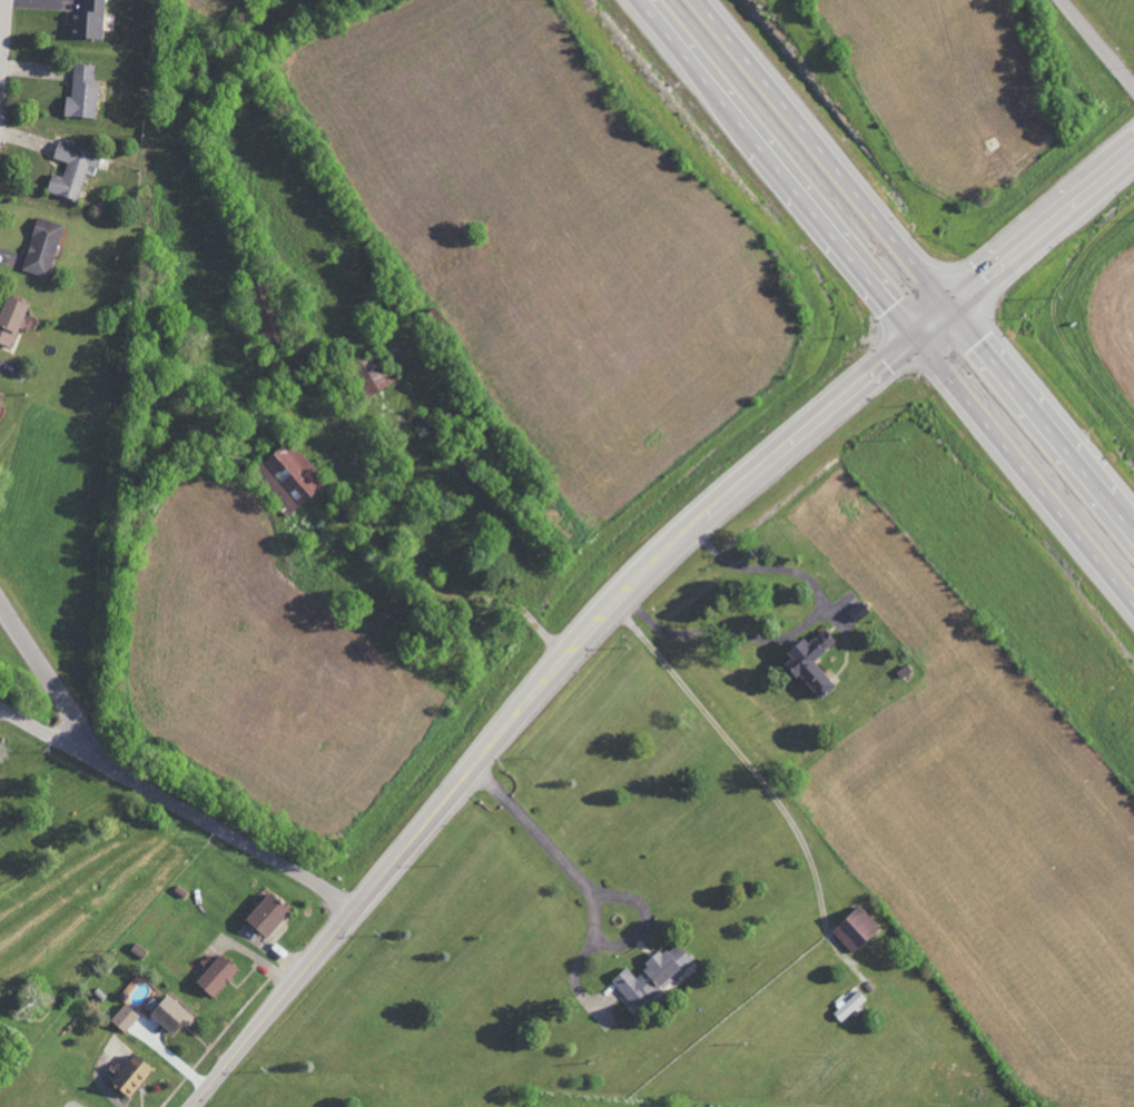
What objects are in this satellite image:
building: (87, 21)
road: (1, 29)
road: (1101, 40)
building: (81, 92)
building: (71, 169)
building: (41, 246)
road: (918, 261)
road: (888, 299)
building: (9, 318)
building: (0, 395)
building: (288, 475)
road: (719, 502)
building: (809, 662)
road: (53, 685)
road: (178, 805)
road: (591, 892)
building: (266, 915)
building: (854, 928)
building: (215, 976)
building: (649, 976)
road: (273, 1006)
building: (847, 1006)
building: (167, 1012)
building: (124, 1018)
building: (130, 1076)

